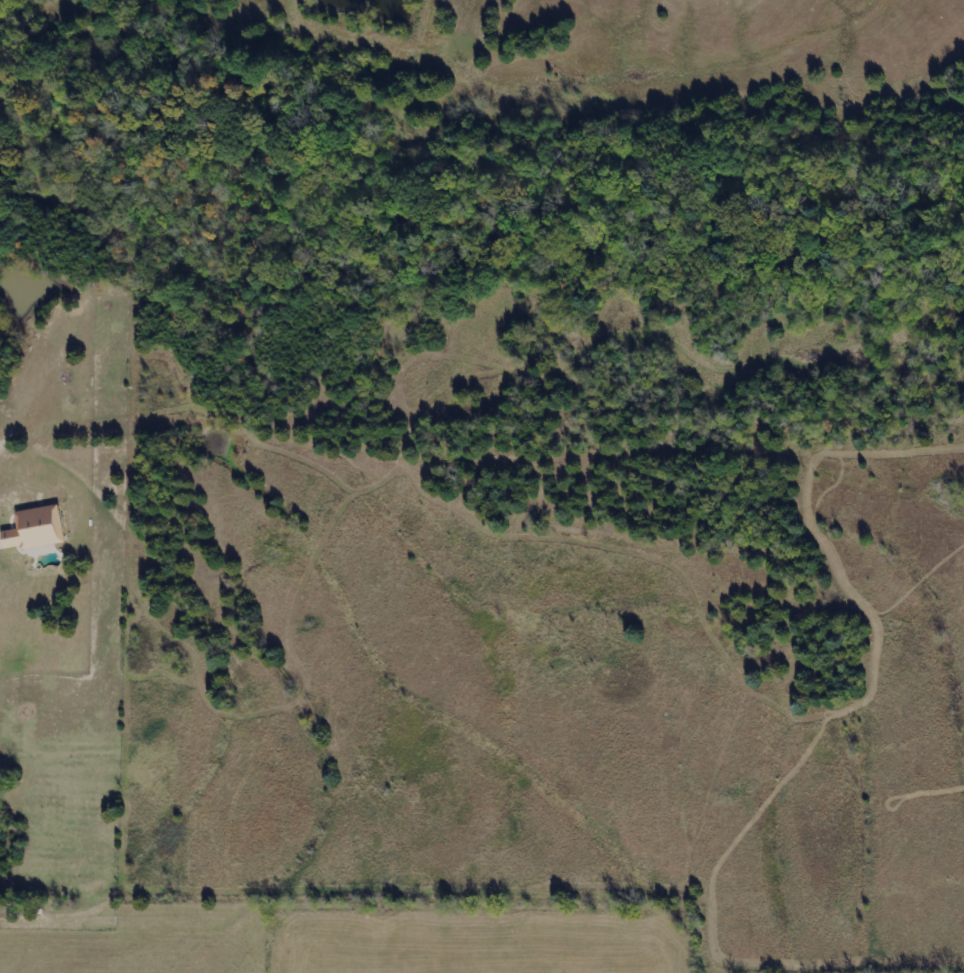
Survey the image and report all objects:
building: (38, 528)

